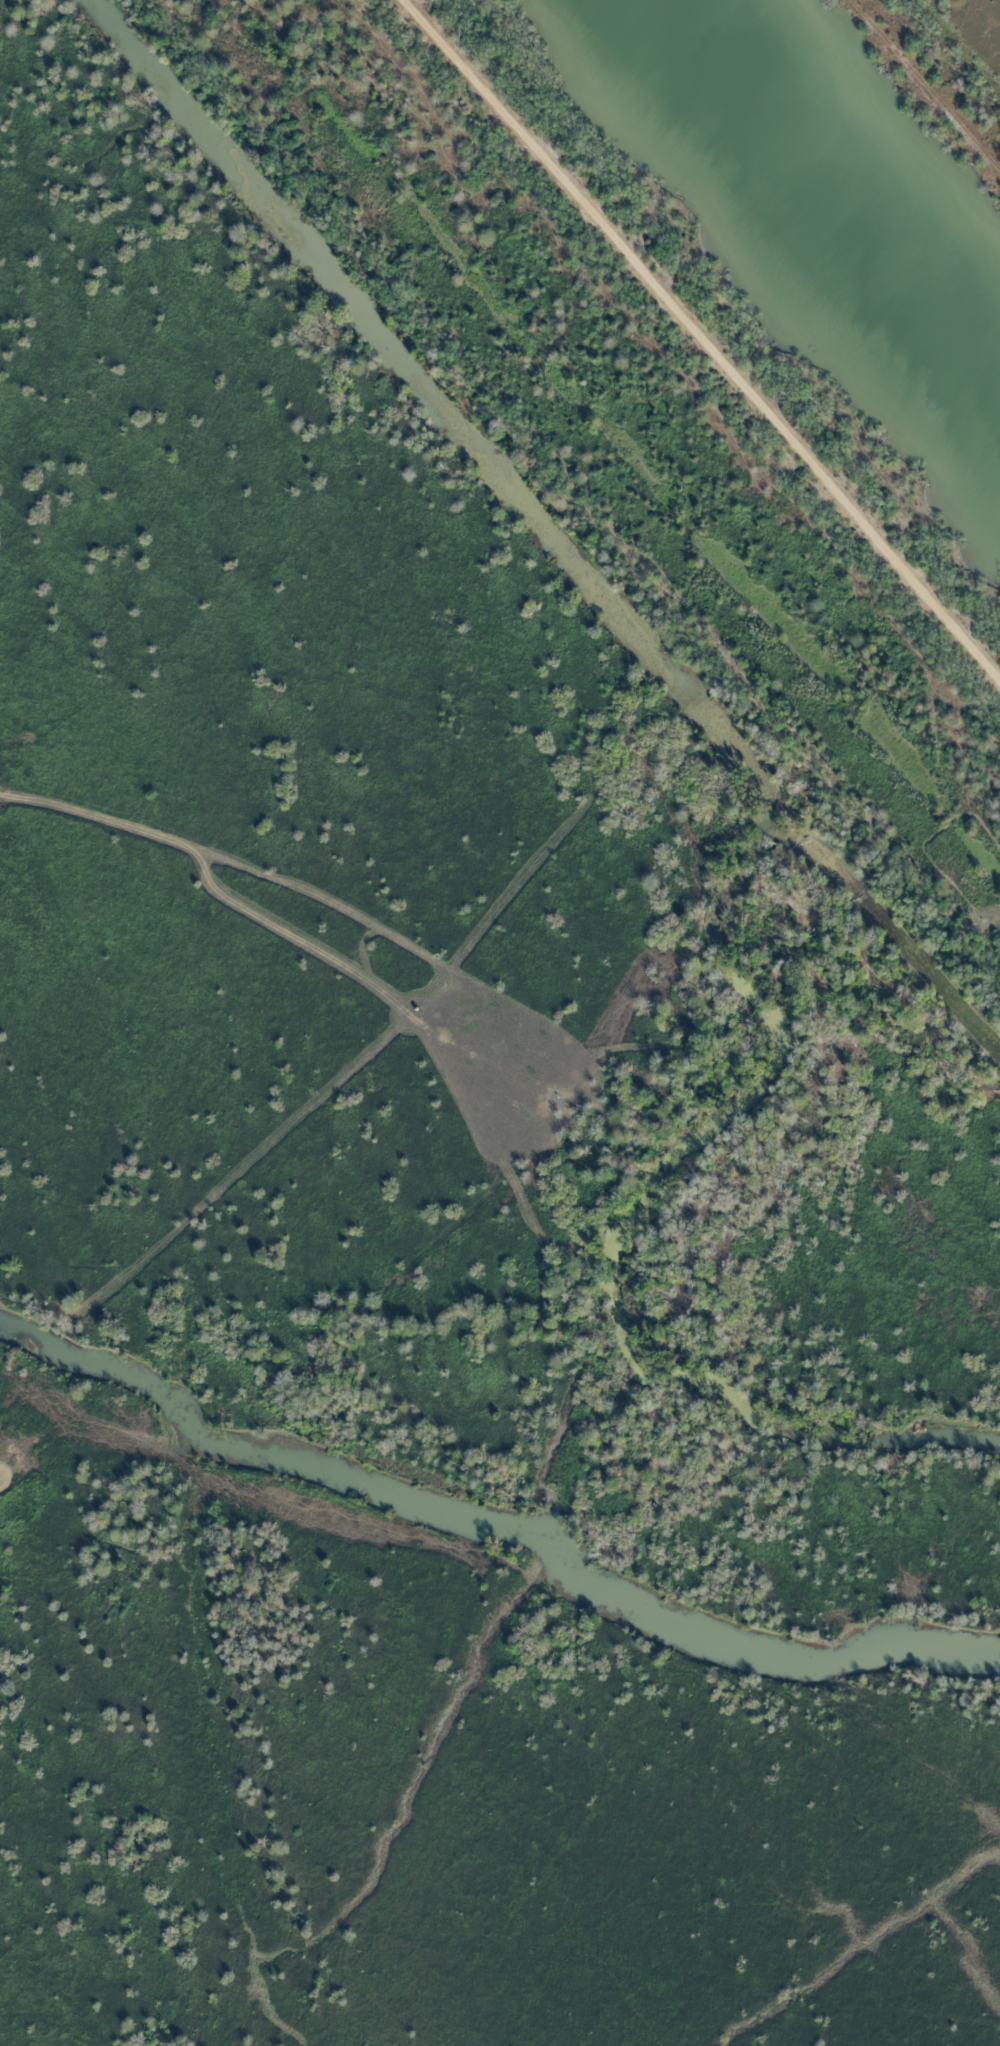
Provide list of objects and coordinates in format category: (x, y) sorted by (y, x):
road: (707, 334)

